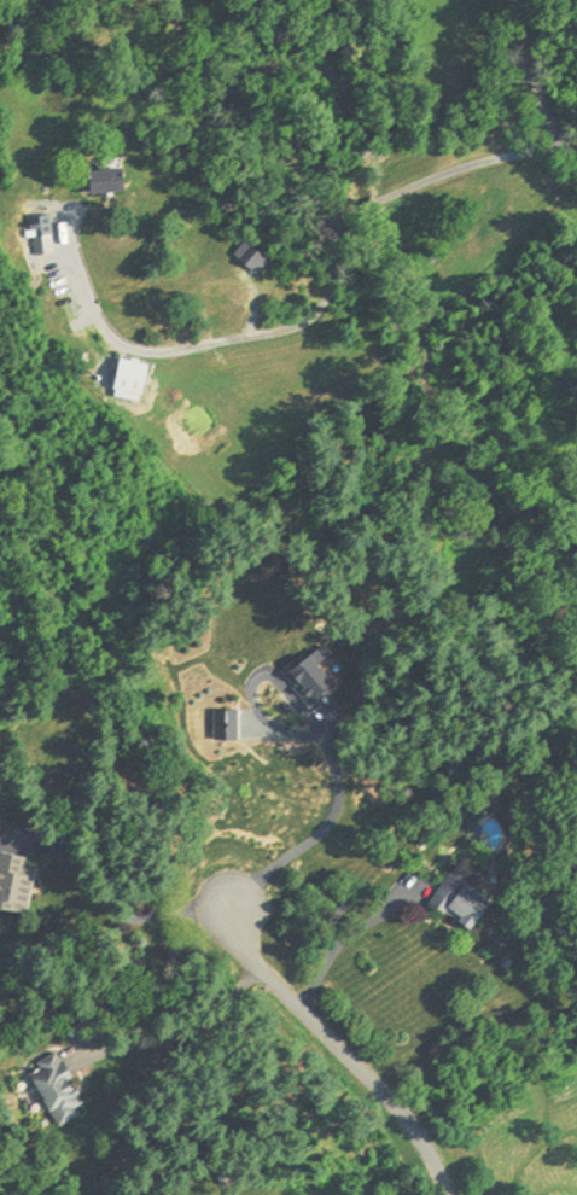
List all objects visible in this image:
road: (529, 86)
road: (468, 165)
building: (107, 179)
road: (368, 205)
building: (40, 237)
building: (250, 260)
road: (211, 344)
building: (129, 383)
building: (307, 686)
road: (324, 824)
building: (16, 884)
building: (460, 904)
road: (115, 910)
road: (342, 939)
road: (187, 1026)
road: (343, 1051)
building: (57, 1089)

